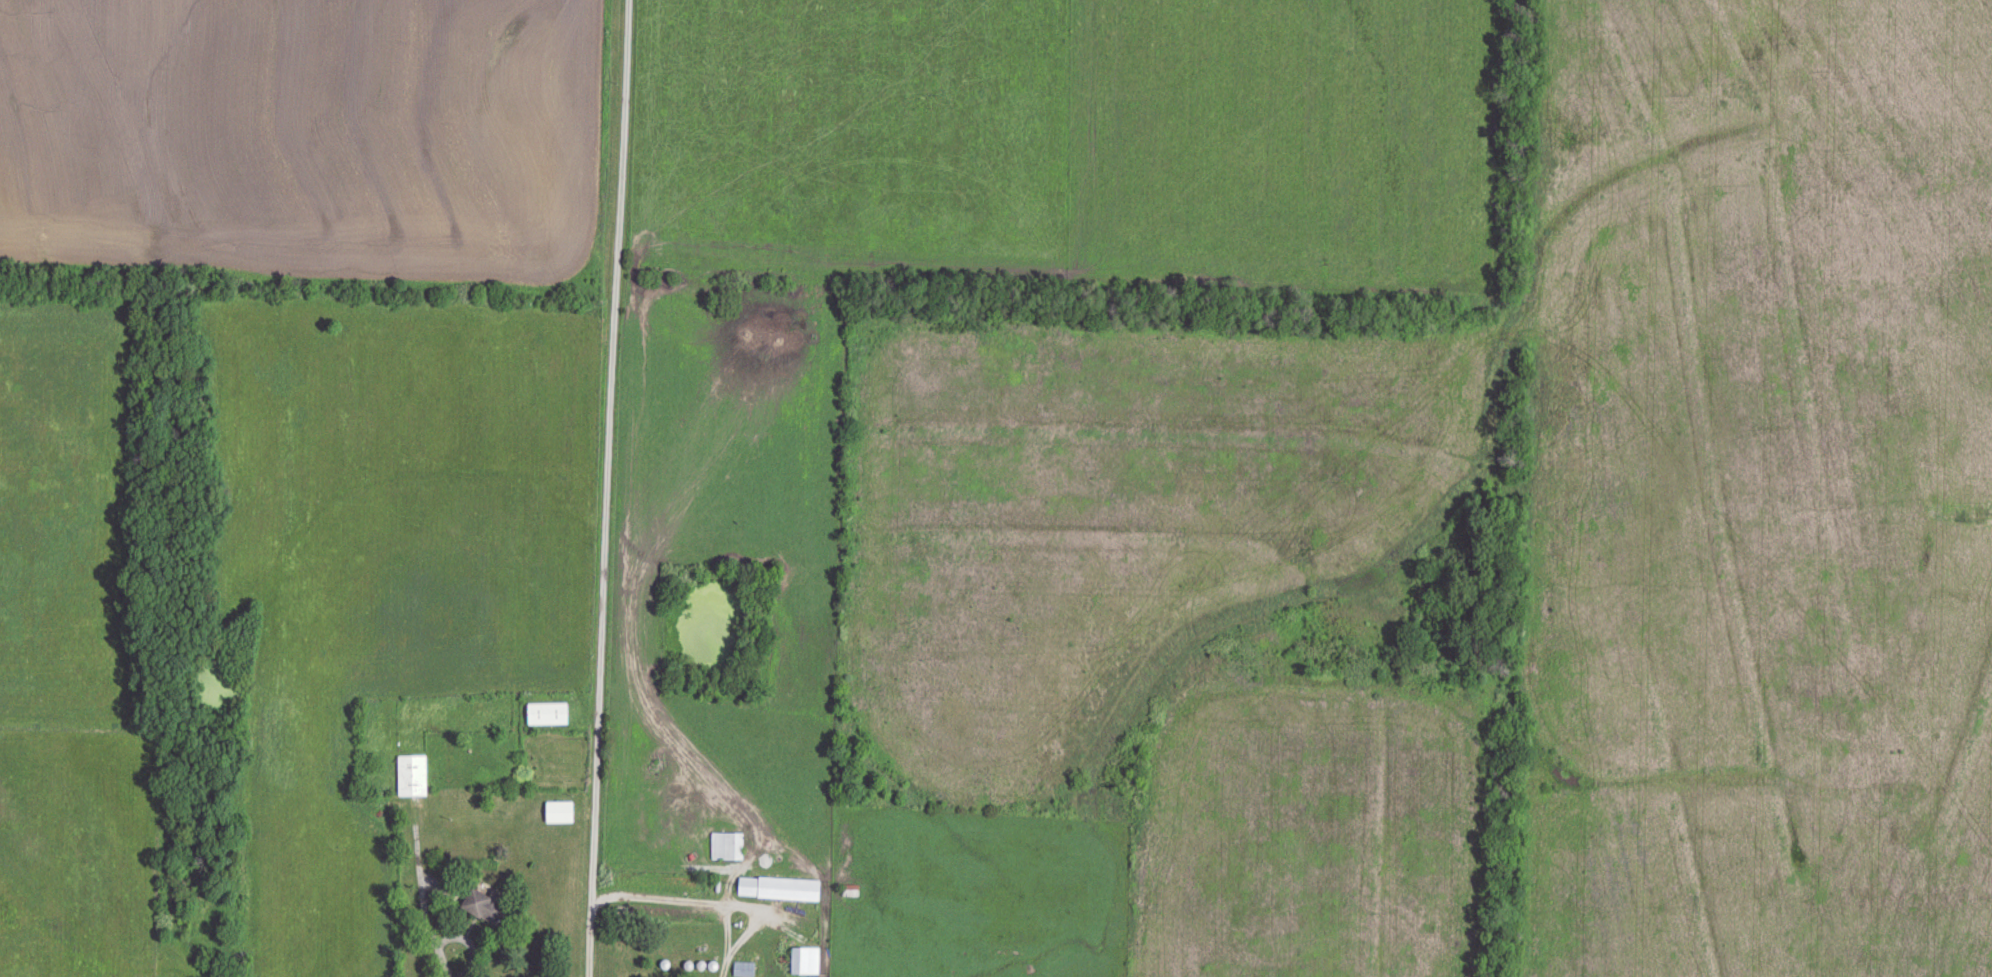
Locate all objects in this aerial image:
crop: (309, 138)
road: (605, 488)
building: (547, 713)
building: (413, 776)
building: (559, 812)
building: (727, 847)
building: (778, 889)
building: (849, 892)
building: (485, 904)
road: (445, 960)
building: (804, 961)
building: (743, 969)

